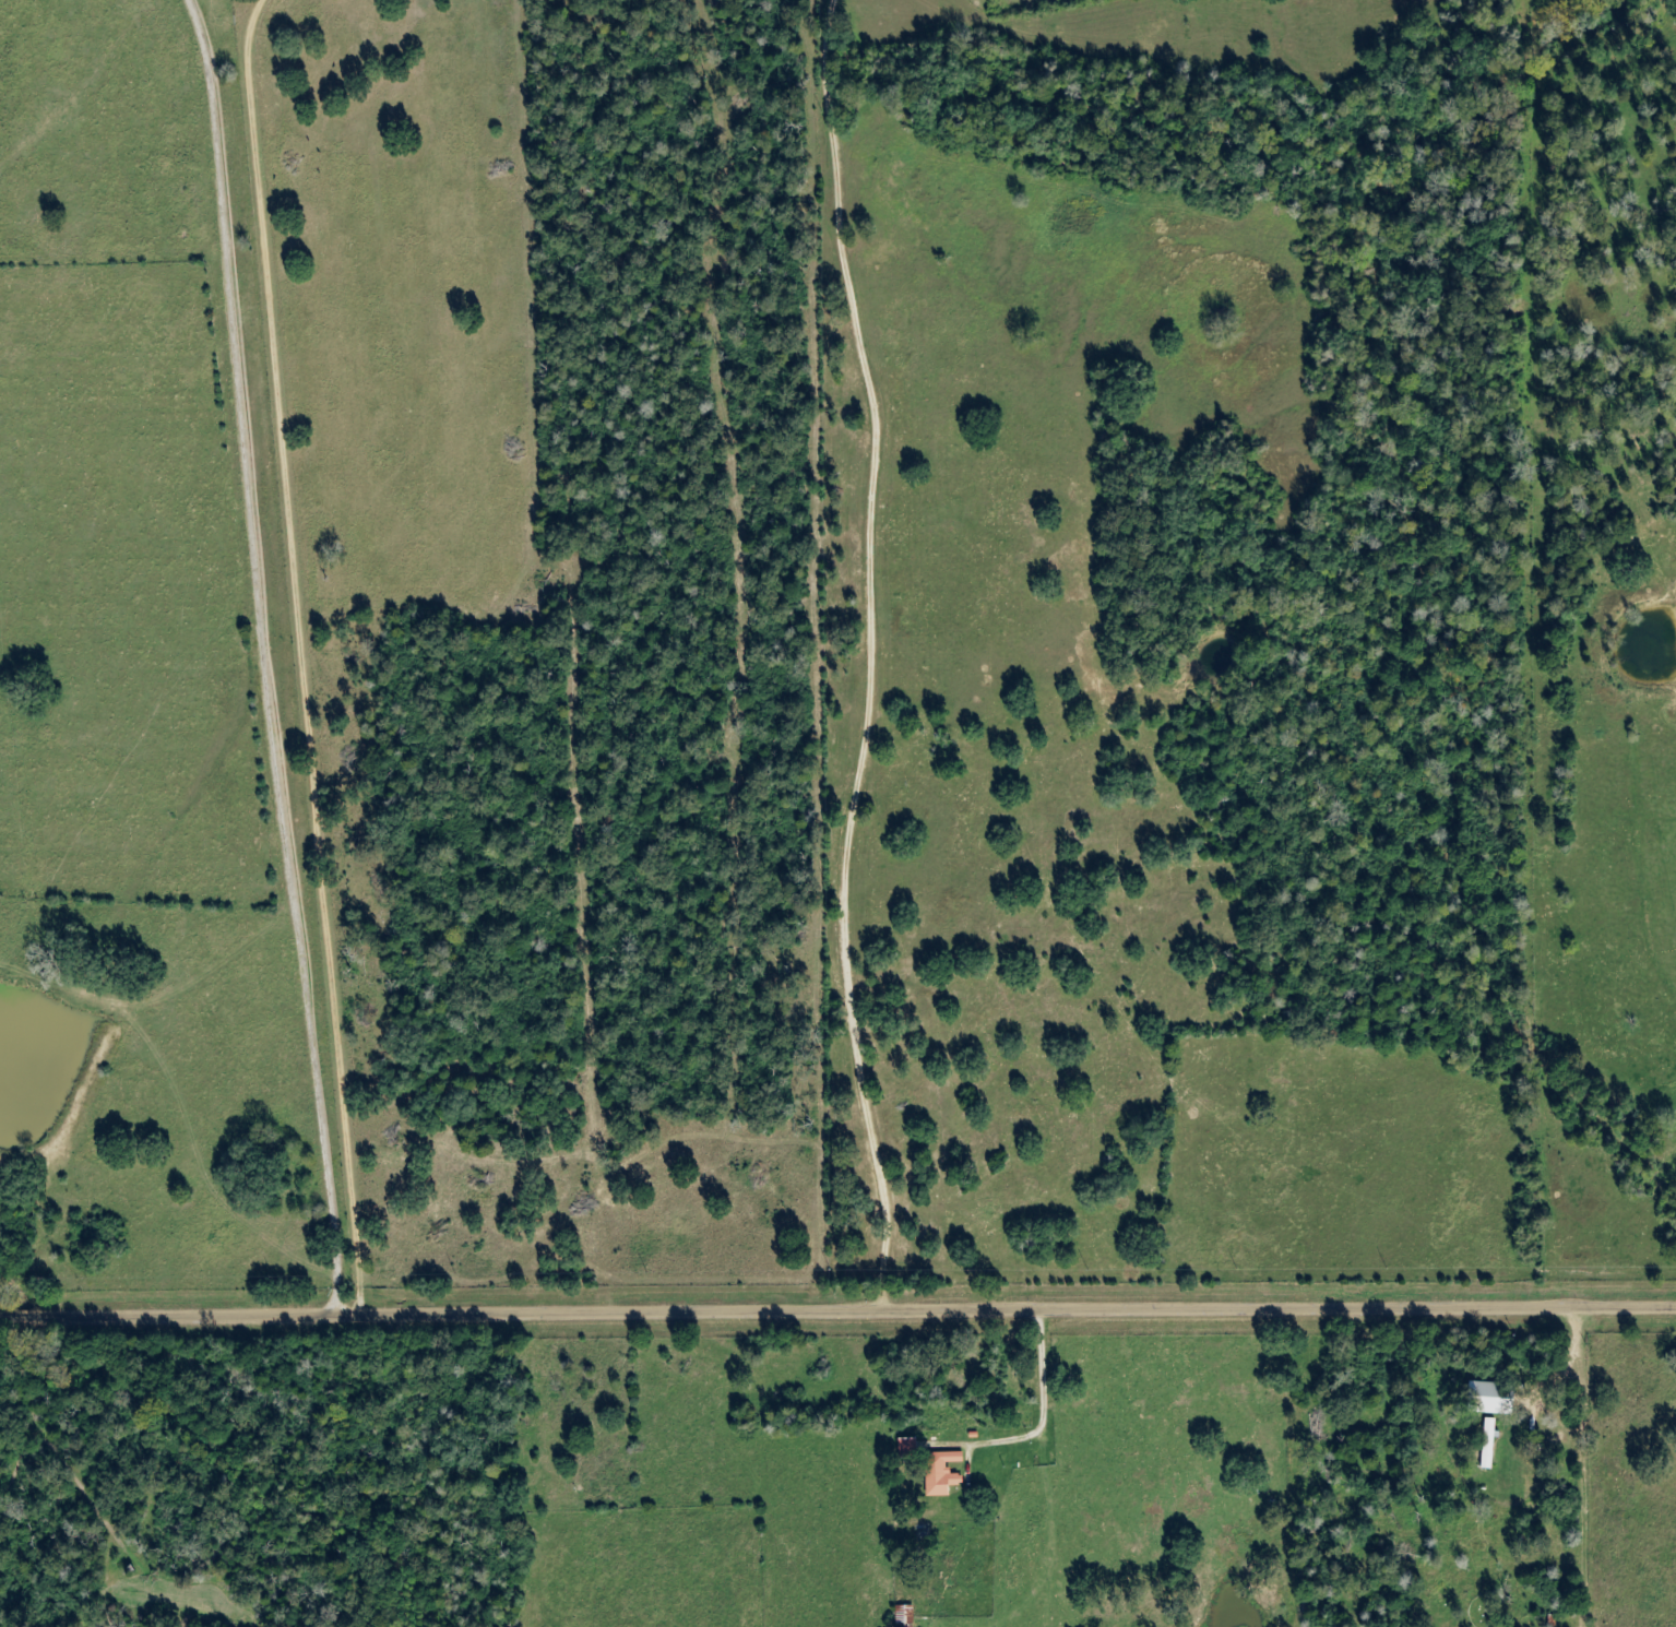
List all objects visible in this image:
road: (871, 650)
road: (308, 653)
road: (269, 655)
road: (1008, 1305)
road: (169, 1311)
building: (1487, 1398)
building: (1488, 1444)
building: (905, 1448)
building: (940, 1473)
building: (903, 1616)

